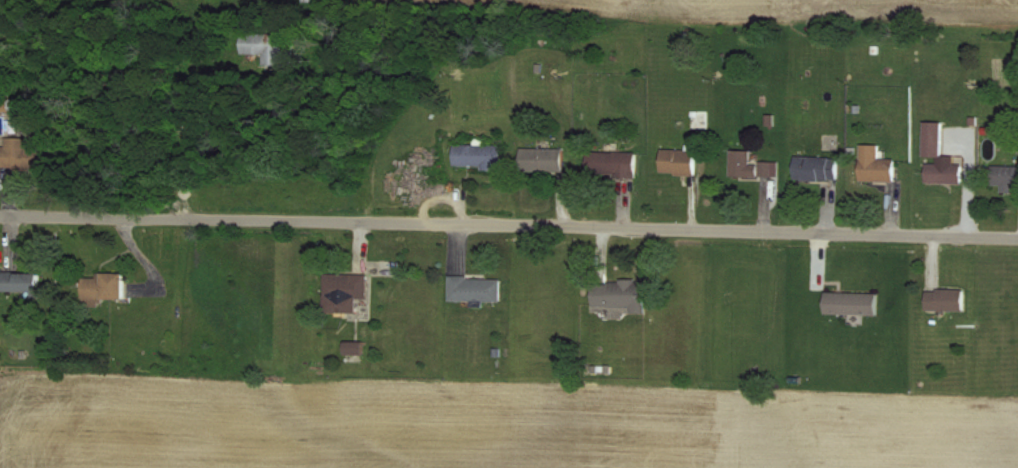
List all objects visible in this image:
building: (261, 48)
building: (932, 139)
building: (478, 155)
building: (541, 160)
building: (676, 162)
building: (611, 164)
building: (874, 165)
building: (750, 166)
building: (815, 169)
building: (943, 174)
building: (1005, 178)
road: (509, 226)
building: (17, 282)
building: (101, 288)
building: (474, 290)
building: (343, 292)
building: (618, 295)
building: (944, 300)
building: (850, 304)
building: (352, 348)

